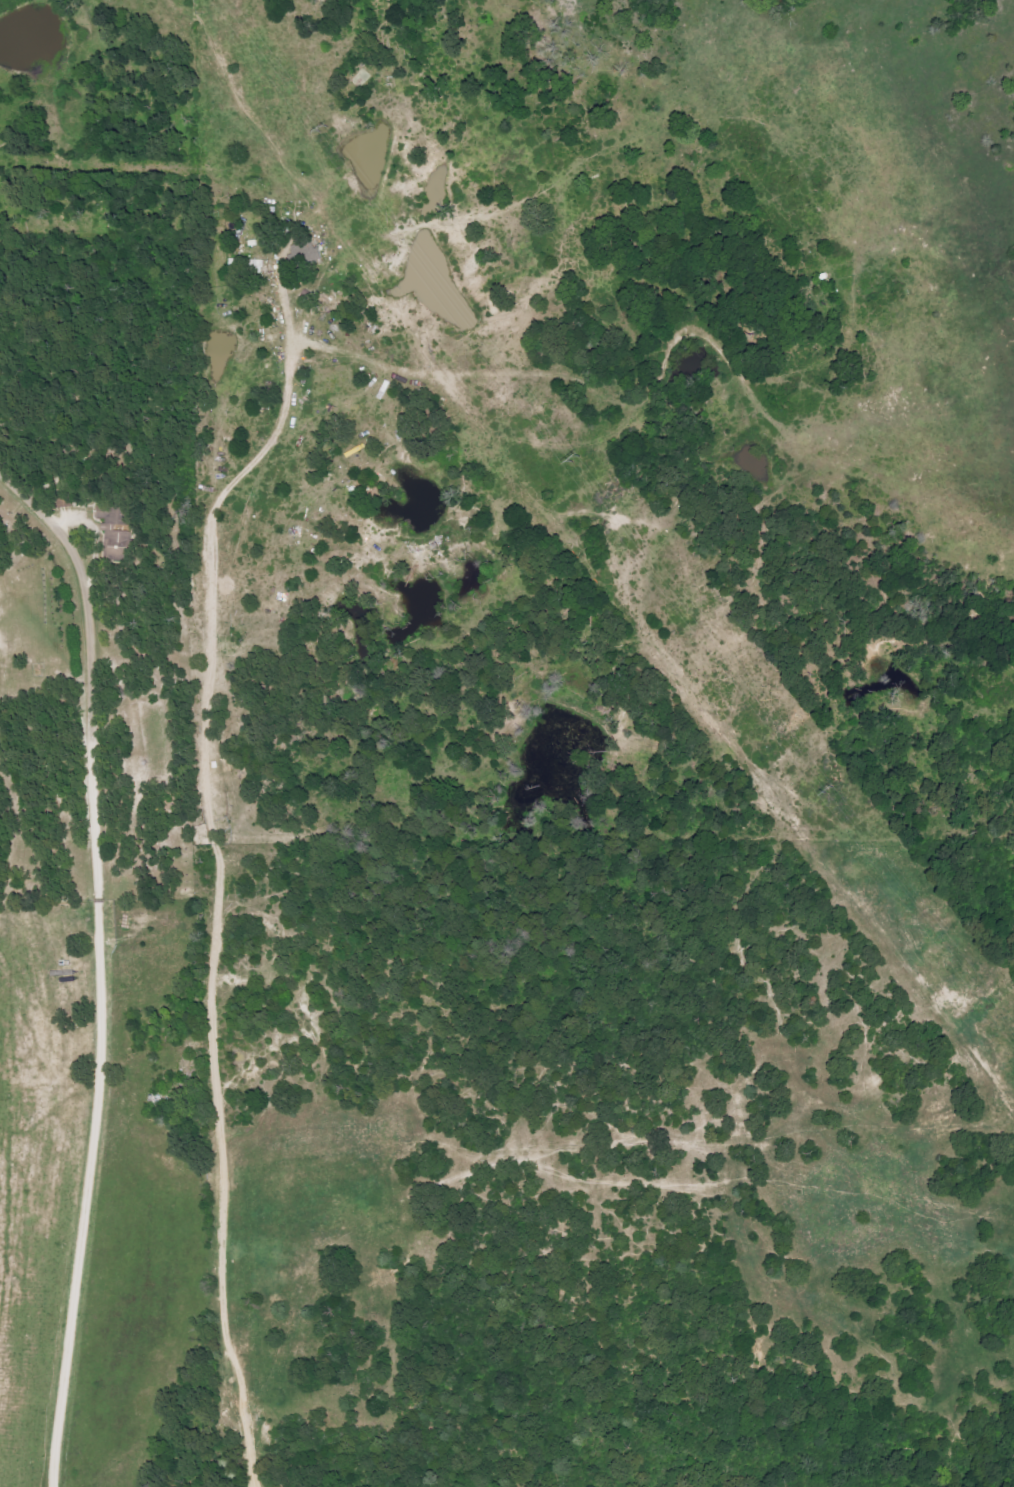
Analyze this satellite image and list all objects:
power tower: (323, 132)
power tower: (575, 461)
building: (121, 541)
power tower: (827, 791)
road: (213, 799)
road: (89, 932)

